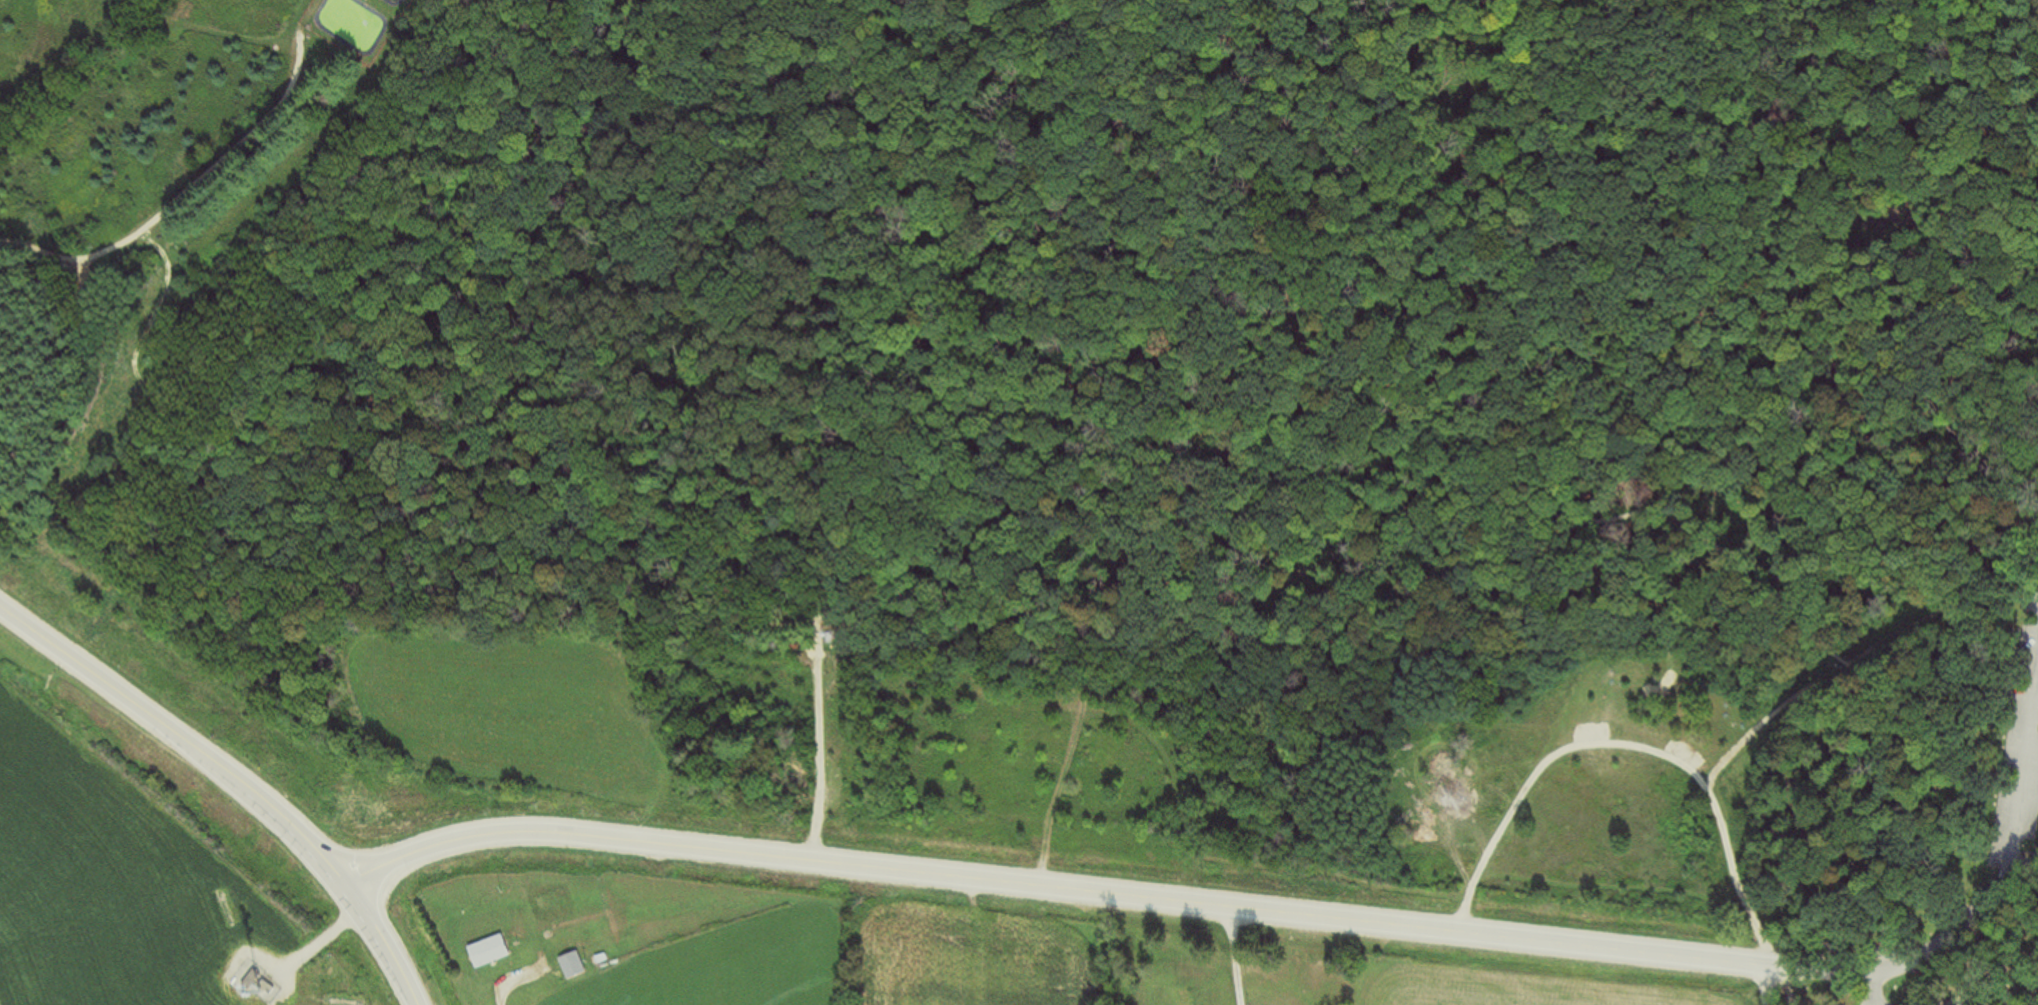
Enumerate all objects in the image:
road: (2036, 10)
road: (1213, 201)
road: (1840, 297)
road: (947, 340)
road: (132, 475)
road: (1594, 506)
road: (1029, 596)
road: (234, 781)
road: (2023, 800)
road: (1062, 890)
road: (2006, 892)
building: (485, 951)
road: (1872, 961)
building: (568, 966)
road: (1820, 987)
road: (1973, 995)
road: (1766, 997)

